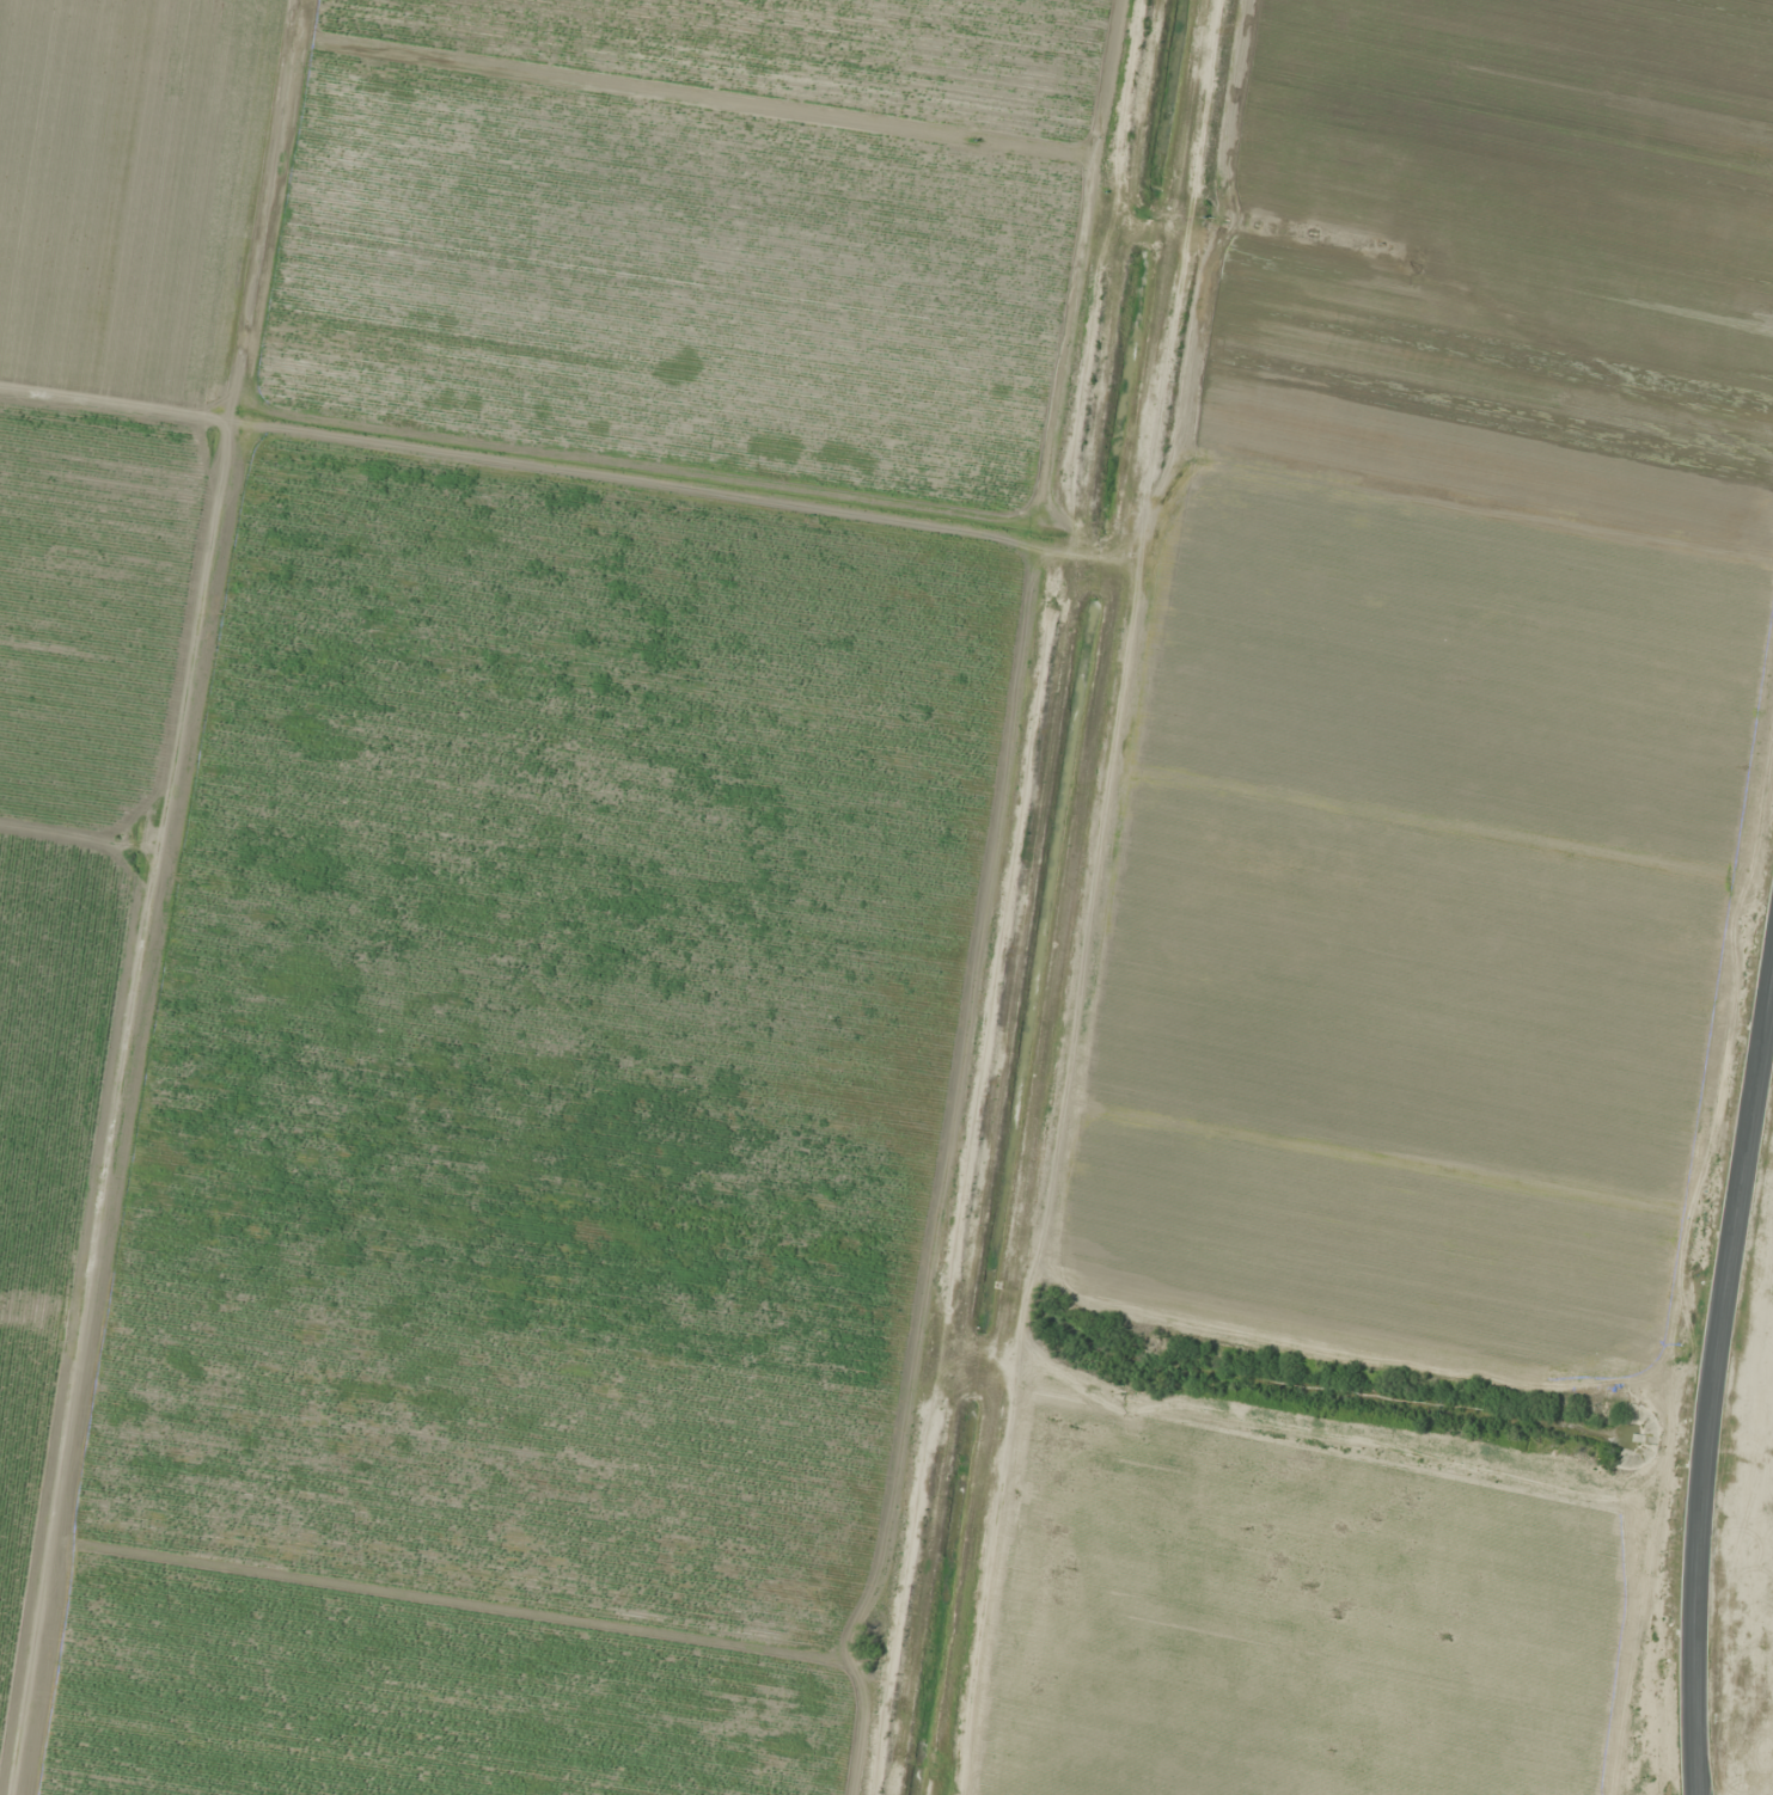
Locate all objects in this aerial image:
road: (1707, 1391)

